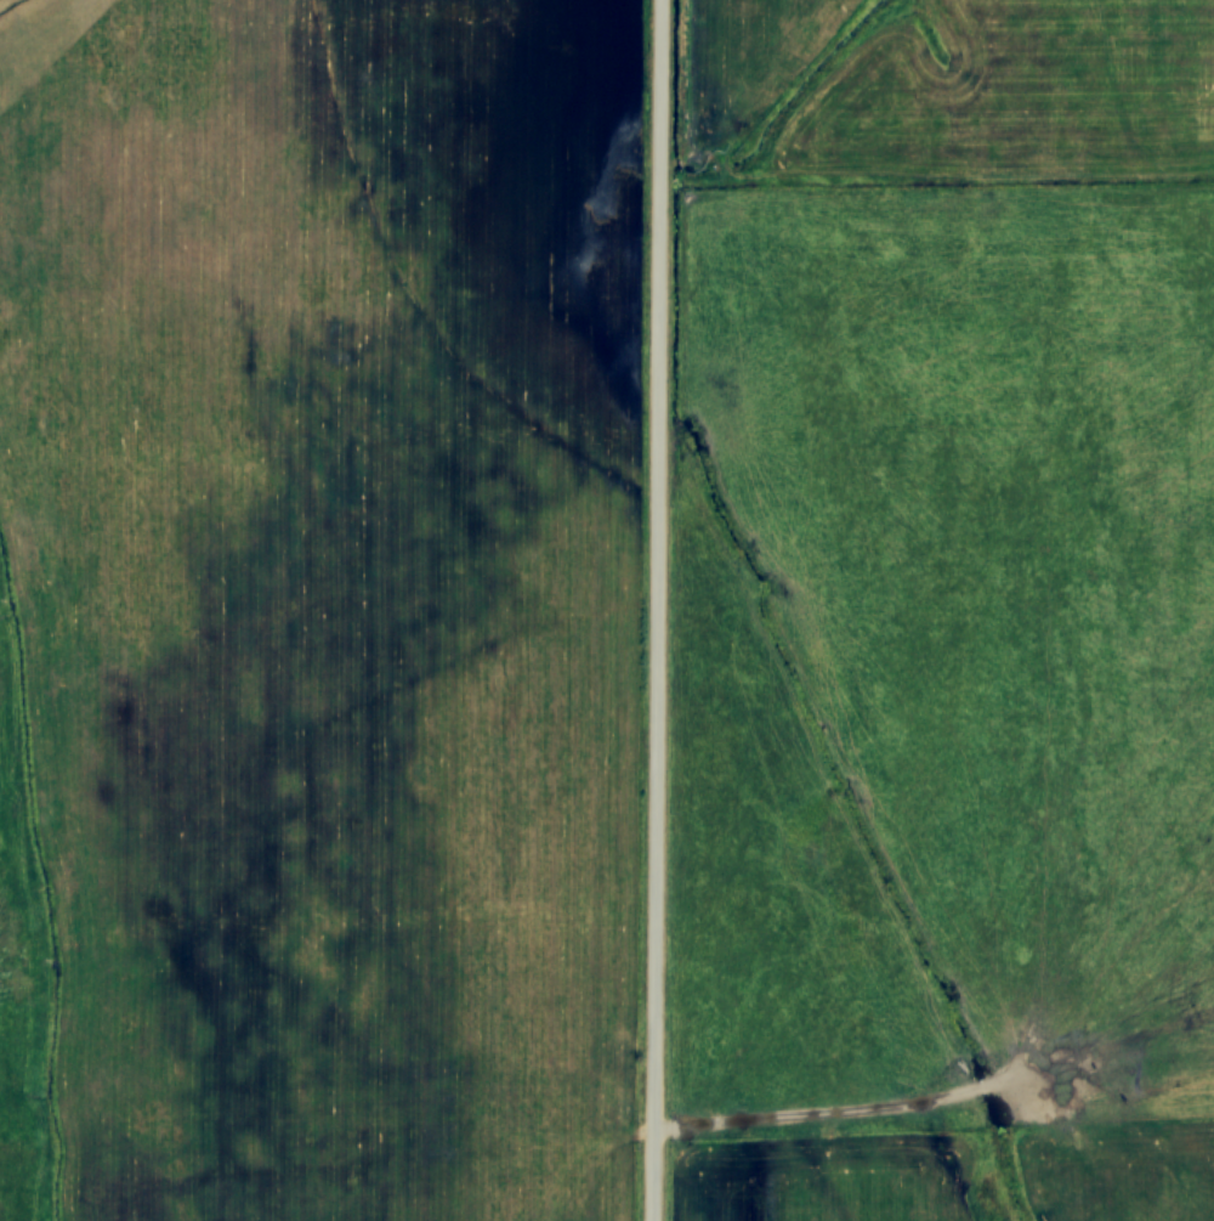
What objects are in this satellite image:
road: (696, 610)

